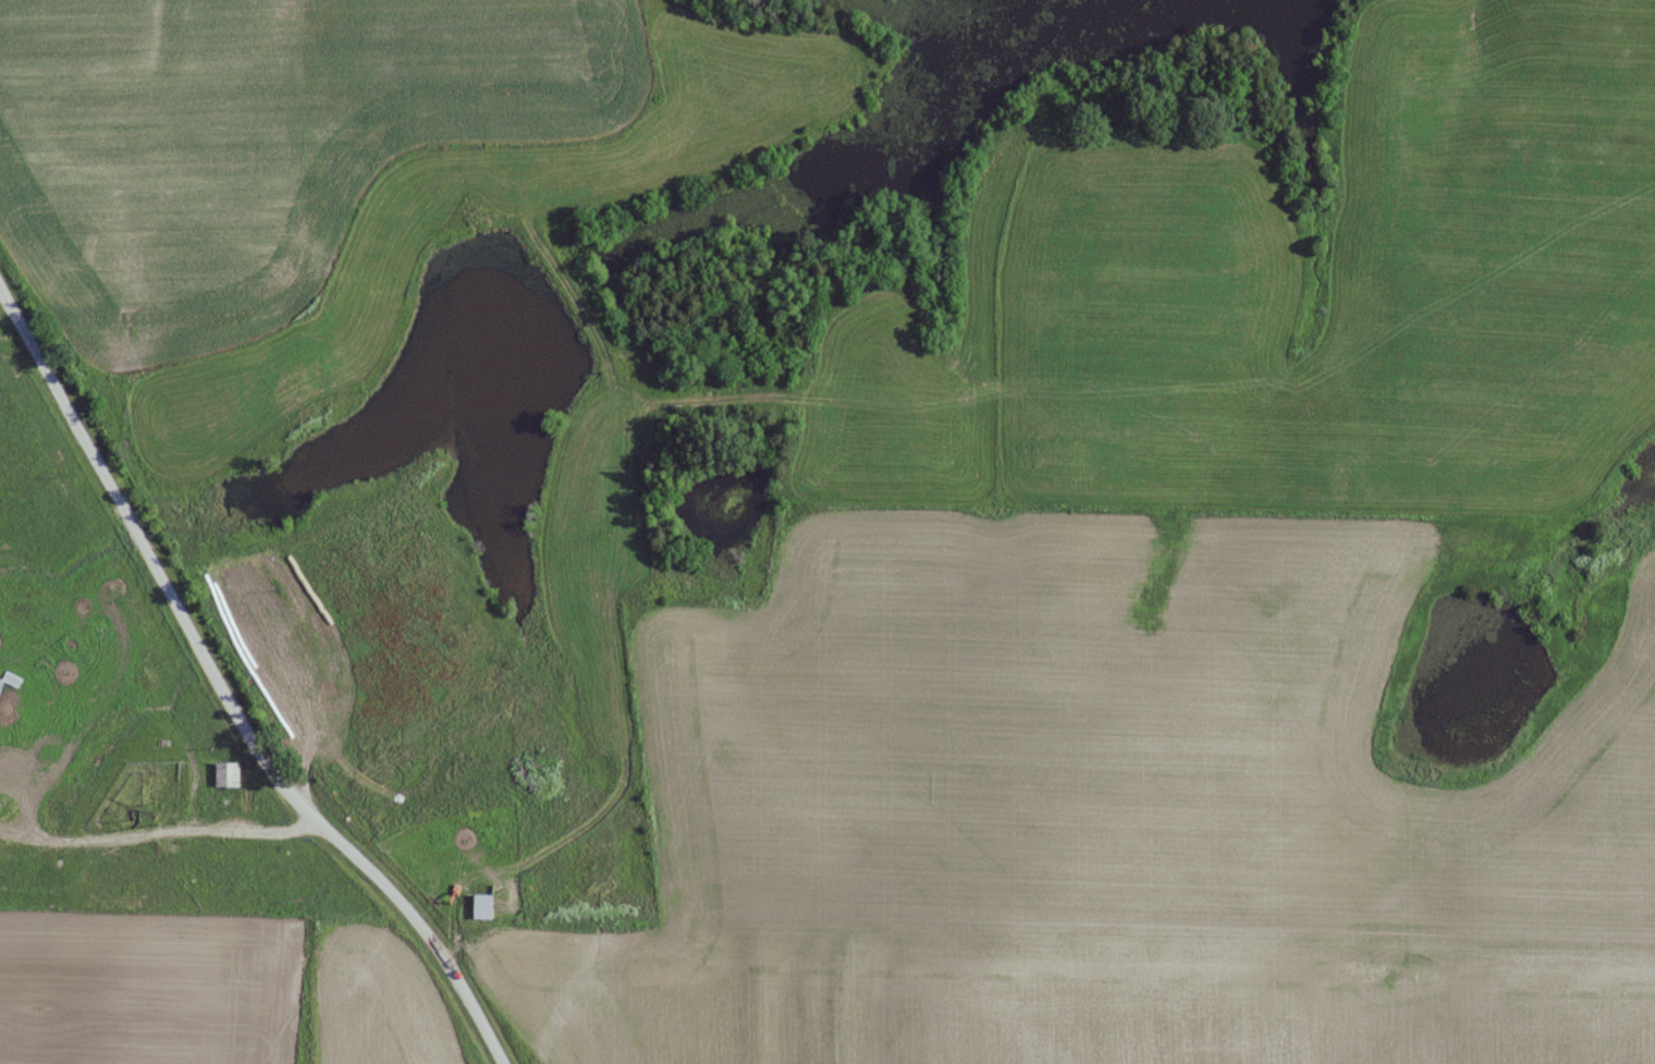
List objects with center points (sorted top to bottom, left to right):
road: (224, 697)
building: (225, 780)
building: (160, 790)

